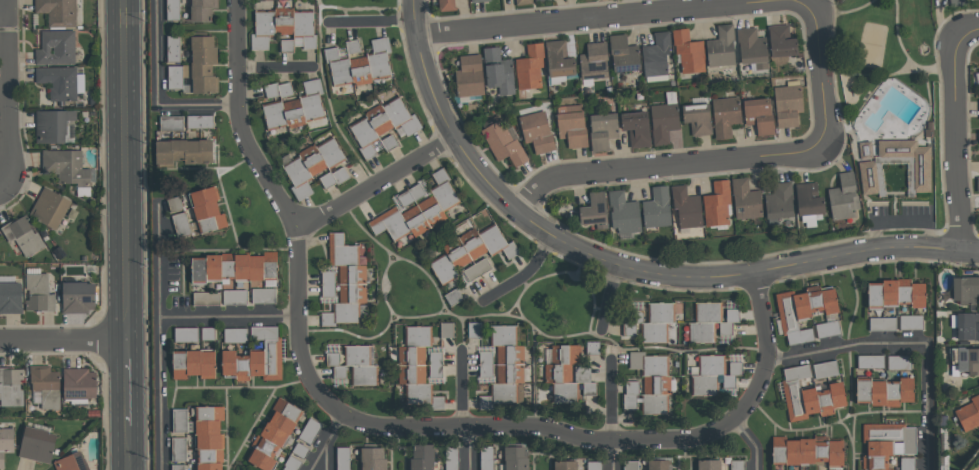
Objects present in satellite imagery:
building: (539, 0)
building: (478, 1)
road: (806, 1)
building: (523, 2)
building: (957, 3)
building: (446, 5)
building: (201, 10)
building: (57, 12)
road: (846, 12)
road: (2, 16)
road: (372, 20)
road: (588, 20)
building: (282, 22)
road: (968, 38)
building: (781, 41)
building: (287, 45)
building: (352, 46)
building: (55, 47)
building: (721, 47)
building: (751, 47)
building: (173, 48)
building: (688, 52)
building: (623, 54)
building: (656, 55)
road: (908, 55)
building: (558, 59)
building: (593, 60)
building: (203, 64)
building: (530, 66)
building: (360, 69)
building: (498, 71)
building: (468, 76)
road: (819, 77)
building: (57, 82)
road: (155, 92)
road: (4, 93)
building: (978, 102)
building: (787, 105)
park: (894, 111)
building: (293, 112)
building: (725, 115)
building: (758, 115)
building: (697, 118)
building: (200, 121)
building: (378, 121)
building: (663, 122)
building: (171, 123)
building: (52, 125)
building: (572, 128)
building: (636, 128)
building: (602, 130)
building: (536, 132)
building: (502, 143)
road: (958, 145)
building: (183, 152)
building: (313, 160)
road: (660, 165)
building: (67, 168)
road: (123, 170)
building: (871, 178)
road: (375, 182)
building: (977, 184)
road: (2, 186)
building: (843, 196)
building: (745, 199)
building: (808, 199)
building: (779, 200)
building: (716, 204)
building: (686, 207)
building: (49, 208)
building: (656, 208)
building: (207, 210)
building: (594, 210)
building: (417, 212)
building: (623, 212)
building: (22, 235)
road: (969, 251)
building: (465, 252)
road: (611, 263)
building: (235, 267)
road: (158, 271)
road: (523, 272)
building: (346, 283)
building: (965, 289)
building: (38, 292)
building: (893, 294)
building: (263, 295)
building: (235, 296)
building: (10, 297)
building: (78, 297)
building: (803, 306)
road: (759, 317)
road: (157, 322)
building: (656, 322)
building: (703, 322)
building: (967, 326)
building: (826, 328)
building: (474, 329)
building: (447, 330)
building: (235, 335)
road: (62, 340)
road: (906, 344)
building: (968, 360)
building: (870, 361)
building: (254, 362)
building: (192, 363)
building: (892, 363)
building: (335, 364)
building: (414, 364)
building: (506, 364)
building: (361, 365)
building: (735, 367)
building: (825, 369)
building: (562, 372)
building: (707, 375)
building: (652, 381)
road: (125, 382)
building: (78, 383)
building: (45, 385)
building: (10, 387)
road: (460, 389)
building: (883, 392)
building: (630, 395)
road: (609, 399)
building: (811, 399)
building: (968, 413)
road: (352, 416)
building: (180, 419)
building: (274, 433)
building: (208, 437)
road: (325, 441)
road: (752, 442)
building: (5, 443)
building: (885, 443)
building: (37, 444)
road: (126, 447)
building: (179, 449)
building: (804, 451)
building: (421, 457)
building: (372, 458)
building: (451, 458)
building: (486, 458)
building: (515, 458)
building: (72, 462)
road: (973, 462)
building: (907, 463)
building: (708, 464)
building: (564, 465)
building: (593, 465)
building: (630, 465)
building: (659, 465)
building: (737, 465)
building: (177, 467)
building: (834, 468)

